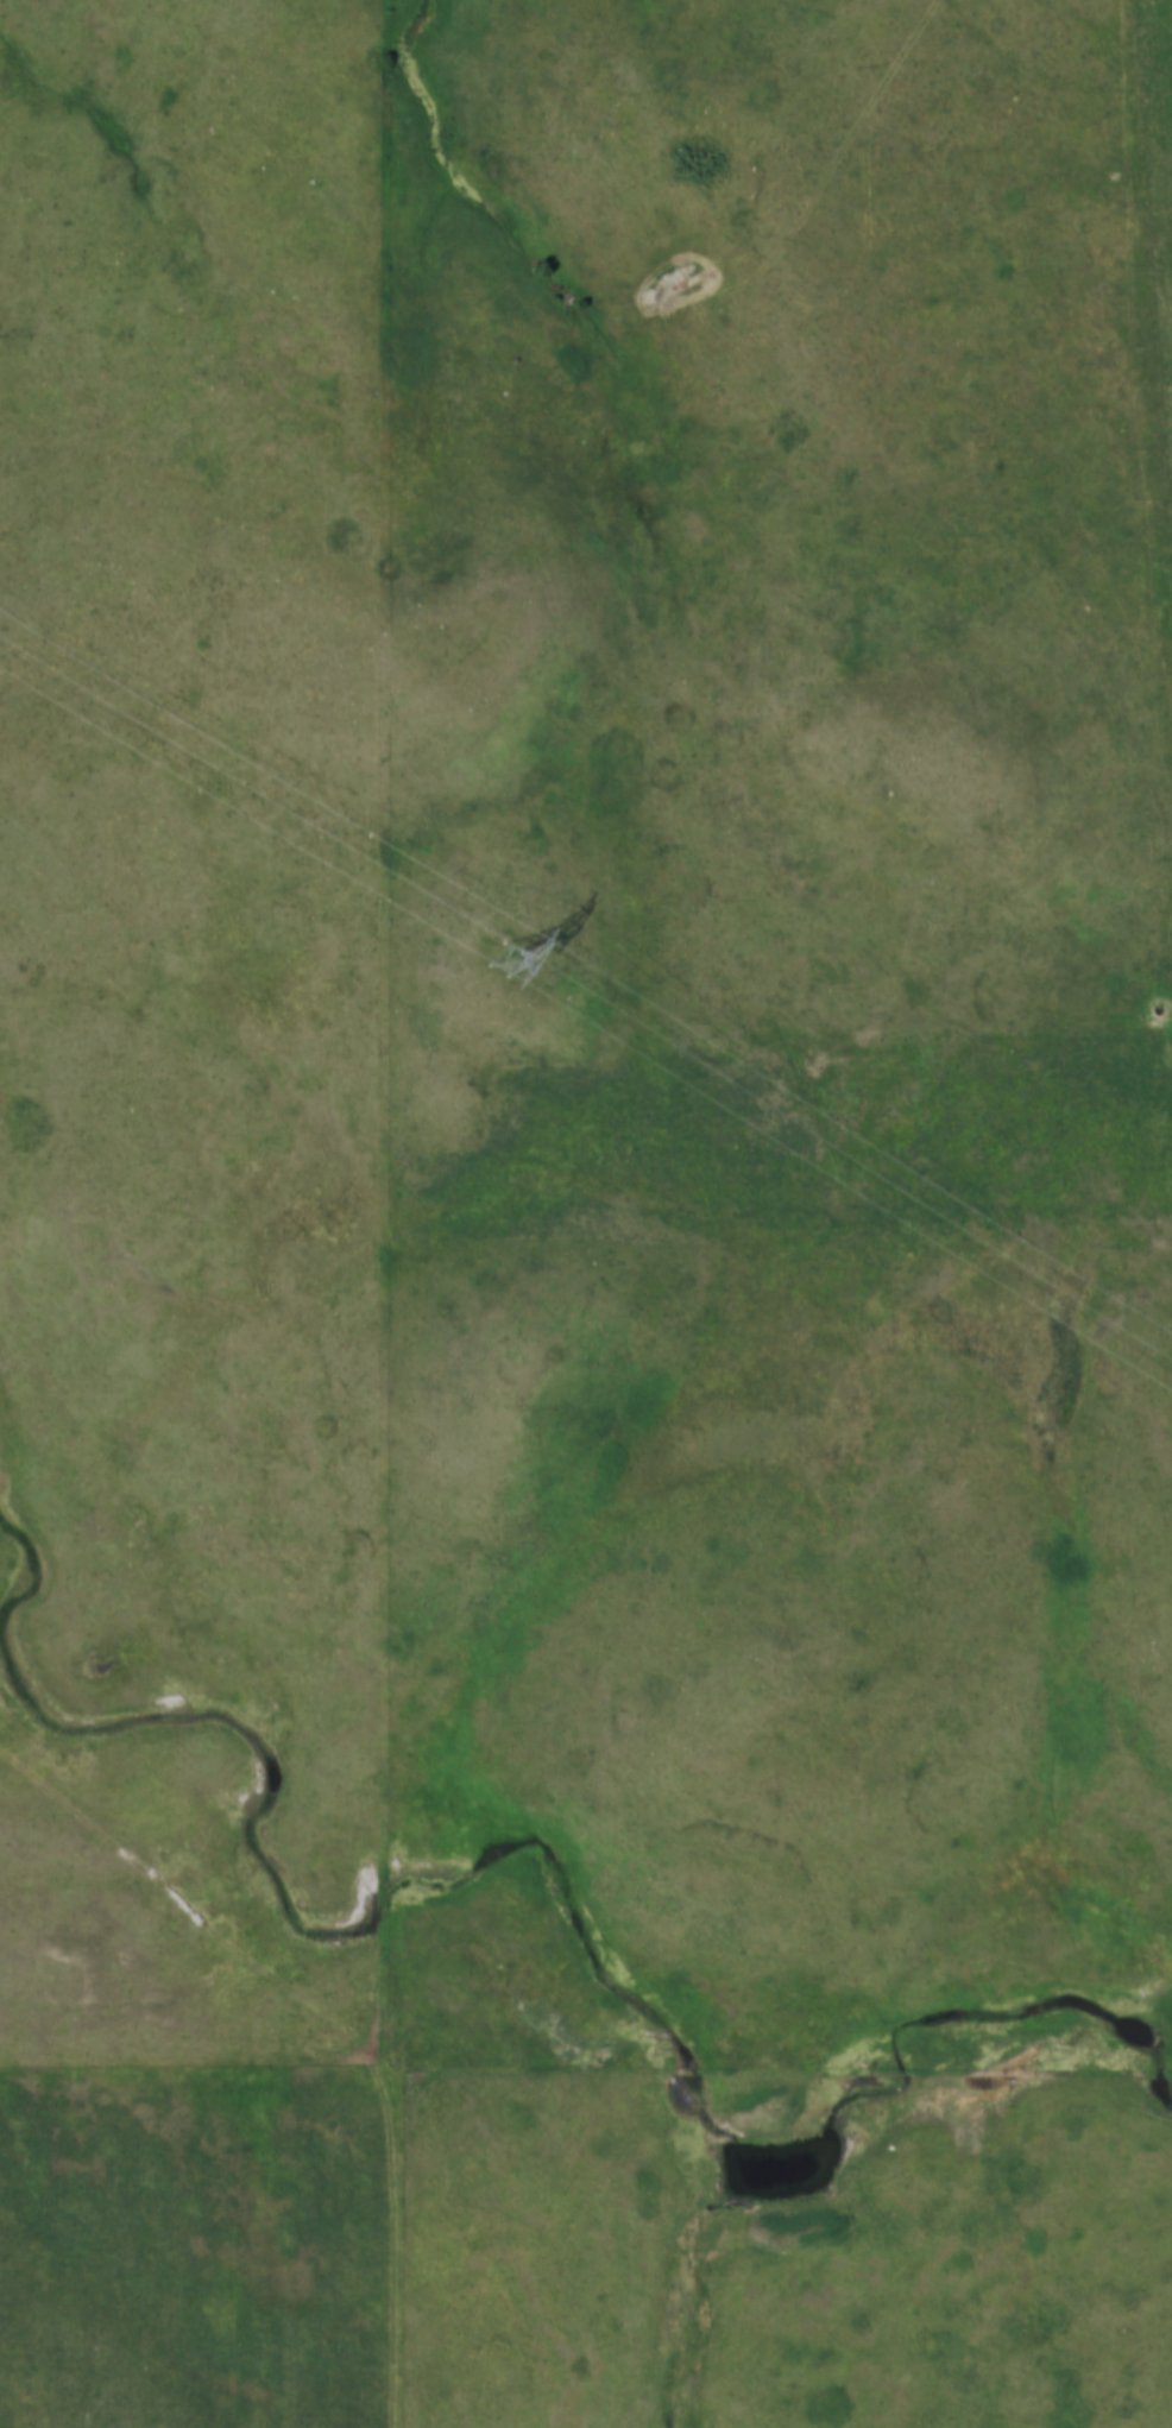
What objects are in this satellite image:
power tower: (510, 964)
road: (398, 2257)

